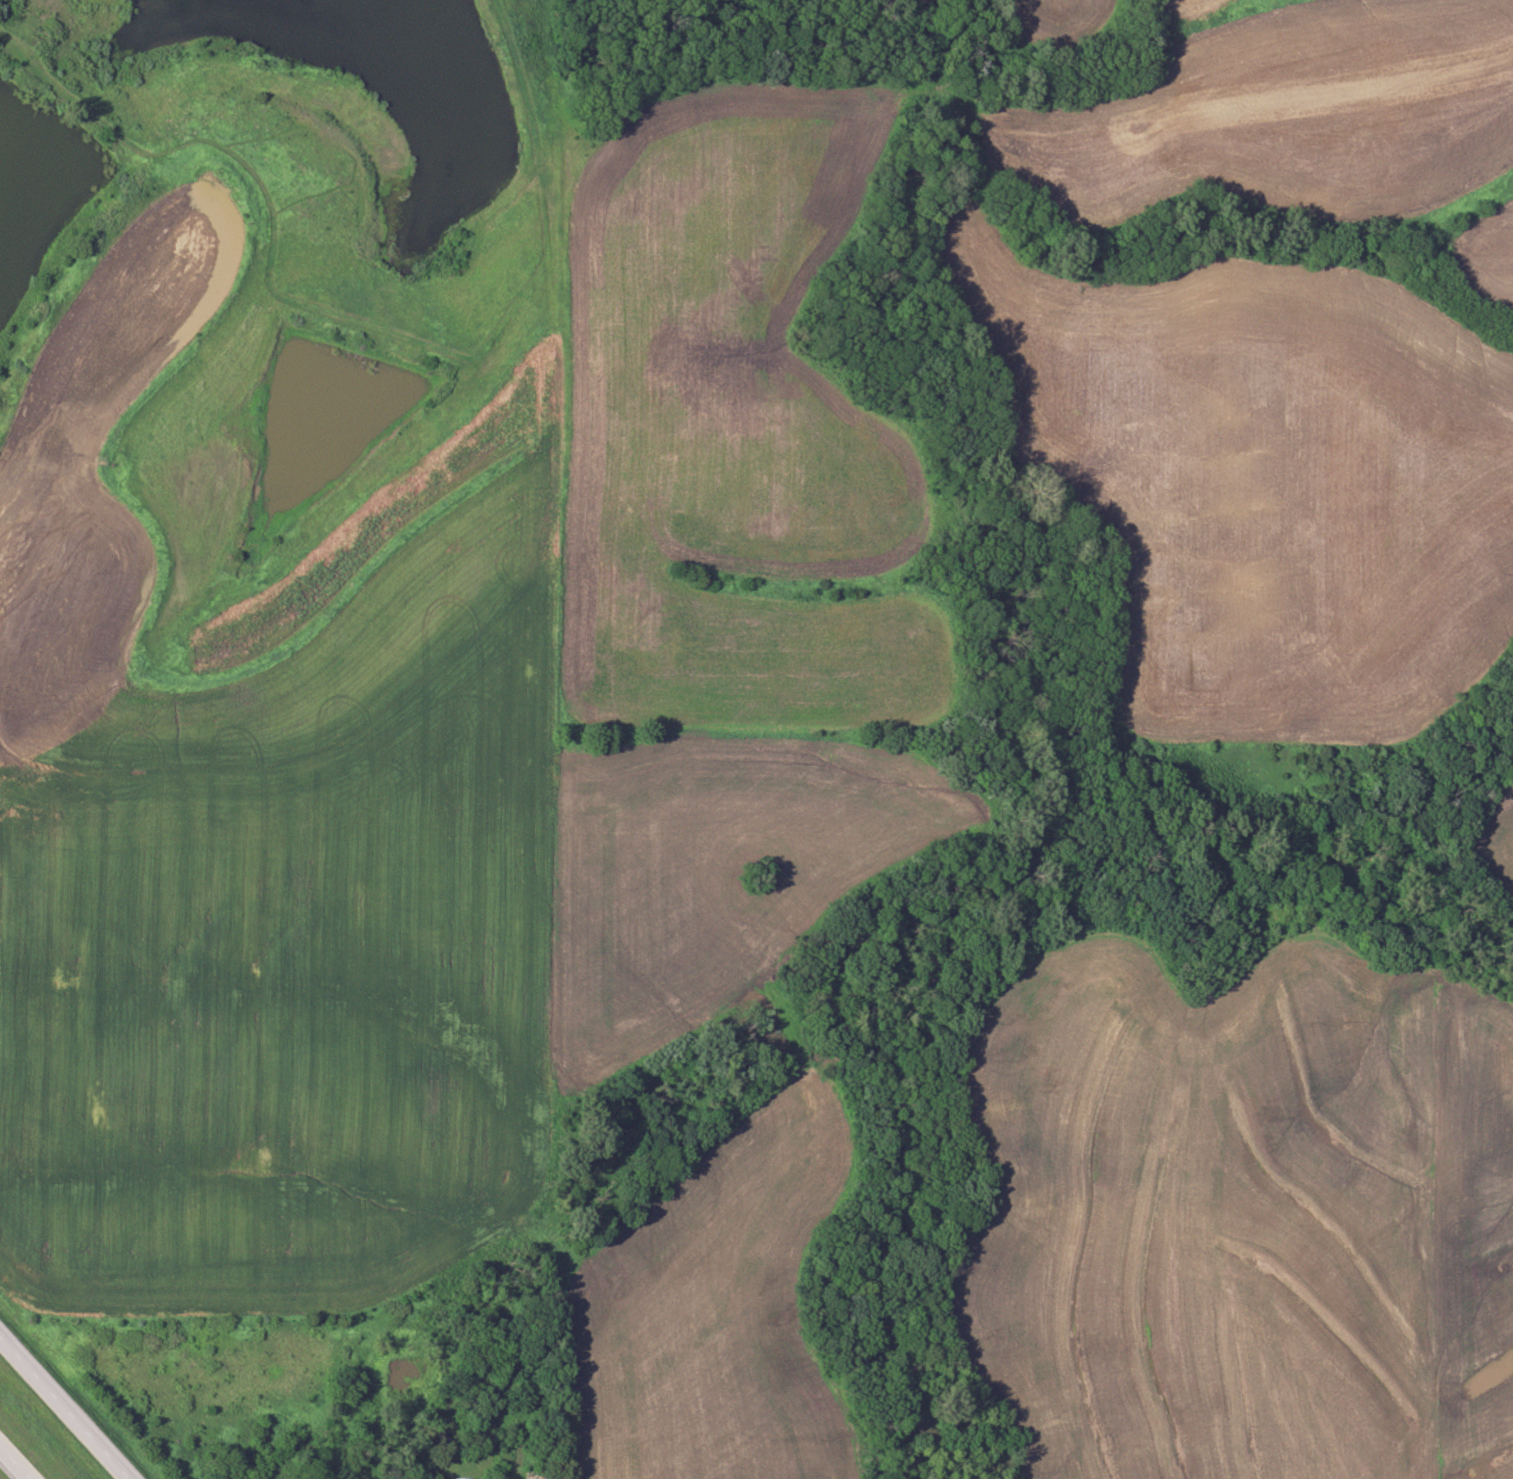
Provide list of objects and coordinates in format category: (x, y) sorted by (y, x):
road: (65, 1408)
road: (8, 1469)

